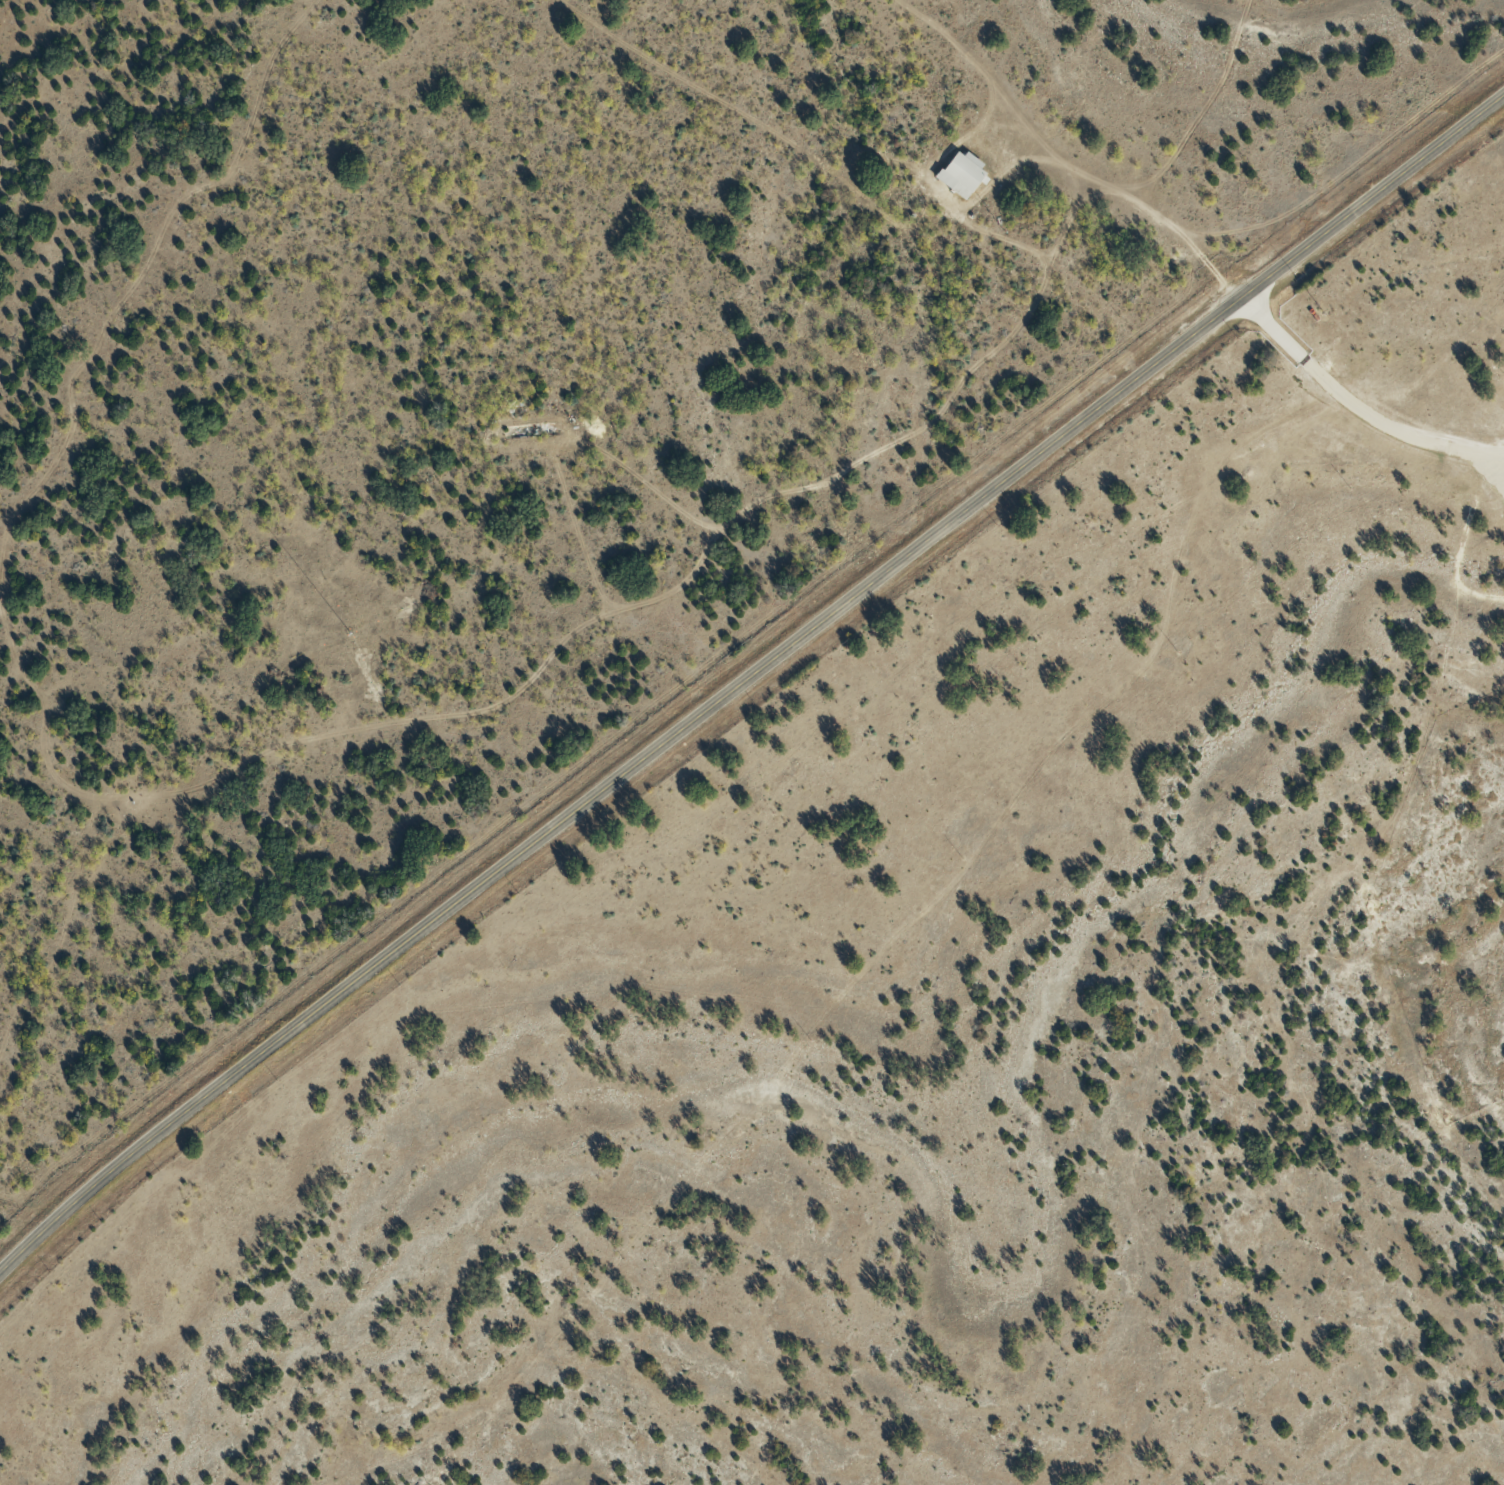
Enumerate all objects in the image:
building: (959, 173)
road: (1357, 405)
road: (747, 680)

